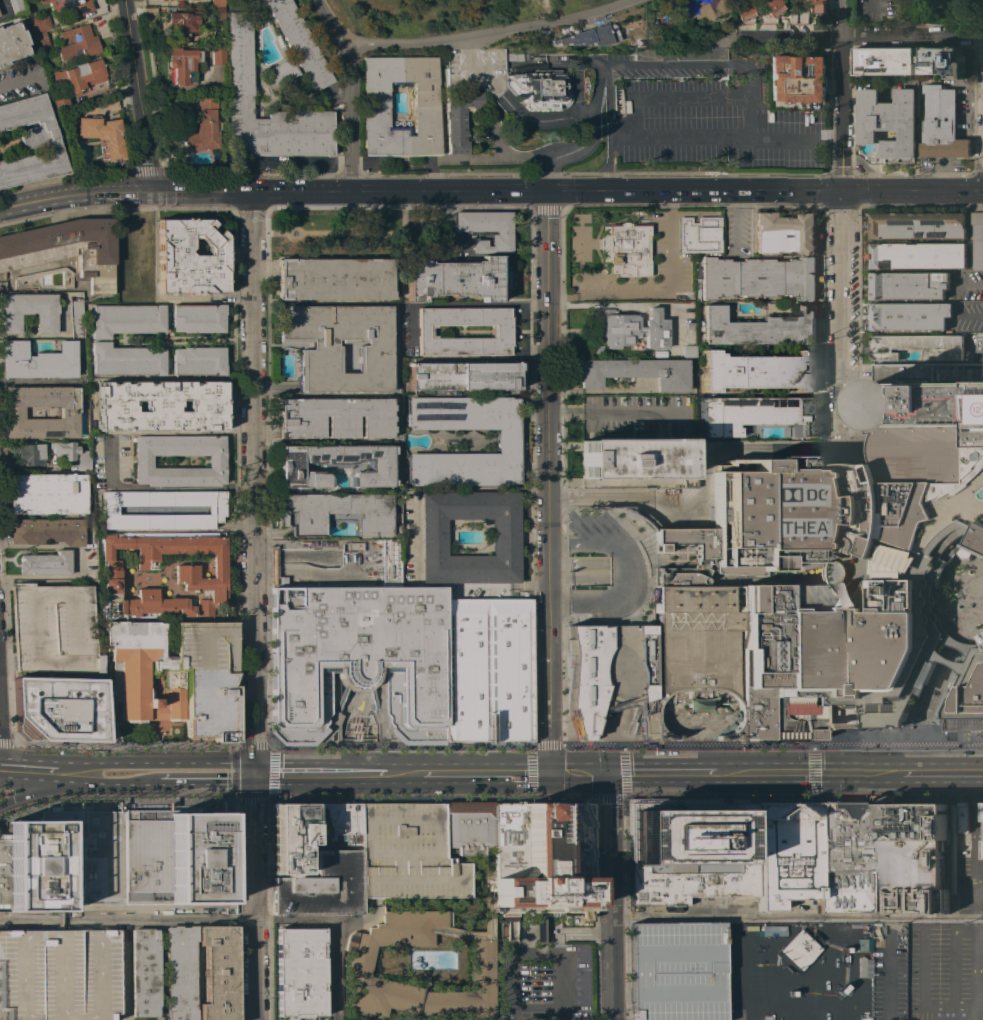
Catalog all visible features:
building: (182, 0)
building: (787, 0)
building: (218, 3)
road: (543, 3)
building: (69, 5)
building: (16, 6)
building: (819, 7)
building: (702, 8)
building: (768, 11)
building: (742, 12)
building: (218, 13)
building: (796, 16)
road: (556, 17)
road: (915, 17)
road: (537, 20)
building: (40, 23)
building: (183, 24)
road: (859, 35)
building: (590, 36)
road: (458, 37)
building: (41, 42)
building: (11, 43)
building: (300, 43)
building: (77, 44)
building: (218, 56)
building: (515, 57)
building: (240, 60)
building: (883, 61)
building: (943, 61)
building: (185, 65)
road: (605, 65)
road: (713, 65)
building: (283, 72)
building: (79, 76)
road: (577, 77)
building: (797, 78)
road: (18, 80)
building: (540, 90)
road: (842, 94)
road: (137, 96)
road: (670, 97)
building: (376, 102)
building: (61, 105)
road: (584, 115)
building: (459, 119)
road: (350, 120)
building: (887, 121)
building: (941, 124)
building: (203, 126)
parking lot: (714, 126)
road: (609, 127)
building: (102, 136)
road: (714, 136)
building: (31, 142)
road: (388, 165)
road: (430, 177)
traffic signals: (841, 189)
road: (912, 189)
road: (419, 190)
traffic signals: (147, 194)
road: (923, 204)
road: (843, 205)
road: (292, 218)
road: (736, 222)
road: (562, 223)
building: (917, 225)
building: (486, 229)
road: (279, 233)
road: (362, 233)
parking lot: (735, 233)
building: (786, 233)
road: (299, 234)
park: (360, 234)
building: (707, 236)
building: (977, 240)
road: (669, 242)
building: (626, 249)
building: (62, 254)
building: (917, 255)
building: (190, 258)
parking lot: (662, 268)
road: (599, 276)
building: (759, 278)
building: (333, 279)
building: (456, 279)
building: (908, 285)
road: (602, 293)
road: (229, 297)
road: (605, 297)
road: (189, 298)
road: (842, 300)
road: (460, 304)
parking lot: (855, 306)
building: (28, 312)
parking lot: (832, 315)
building: (908, 315)
building: (198, 318)
building: (76, 319)
building: (126, 320)
building: (690, 326)
building: (760, 328)
building: (631, 329)
road: (579, 331)
building: (501, 332)
road: (545, 340)
building: (918, 346)
building: (373, 348)
building: (597, 350)
building: (689, 351)
building: (38, 361)
building: (126, 361)
building: (198, 361)
building: (758, 371)
building: (636, 372)
building: (463, 376)
road: (35, 385)
road: (273, 388)
building: (924, 398)
building: (161, 406)
road: (613, 413)
parking lot: (472, 414)
building: (68, 415)
building: (758, 415)
parking lot: (635, 417)
building: (334, 418)
road: (842, 432)
building: (509, 441)
road: (857, 450)
building: (73, 452)
building: (29, 454)
building: (632, 459)
building: (143, 462)
building: (334, 465)
parking lot: (472, 469)
road: (160, 487)
road: (436, 489)
road: (704, 493)
building: (48, 494)
road: (547, 495)
building: (215, 510)
building: (337, 512)
building: (47, 531)
building: (505, 538)
building: (45, 564)
parking lot: (856, 568)
building: (848, 570)
road: (622, 573)
road: (47, 576)
building: (199, 578)
road: (252, 607)
building: (54, 629)
parking lot: (54, 629)
road: (549, 636)
building: (698, 650)
building: (360, 655)
road: (7, 664)
road: (947, 670)
building: (486, 671)
building: (608, 674)
building: (176, 676)
building: (968, 701)
building: (60, 709)
building: (567, 709)
road: (157, 738)
traffic signals: (549, 739)
road: (491, 746)
road: (156, 762)
road: (30, 770)
road: (531, 772)
road: (625, 772)
traffic signals: (627, 772)
road: (795, 772)
road: (813, 772)
road: (235, 773)
road: (275, 773)
road: (485, 773)
traffic signals: (525, 773)
road: (579, 773)
road: (319, 774)
road: (403, 774)
traffic signals: (253, 775)
road: (108, 784)
road: (207, 784)
road: (41, 792)
road: (489, 799)
traffic signals: (609, 803)
building: (982, 811)
building: (962, 816)
building: (334, 820)
road: (609, 825)
building: (468, 827)
building: (290, 838)
building: (690, 849)
building: (982, 849)
building: (788, 853)
building: (407, 854)
parking lot: (407, 854)
building: (910, 855)
building: (845, 857)
building: (178, 861)
building: (64, 862)
building: (306, 863)
parking lot: (970, 886)
road: (979, 887)
building: (322, 888)
road: (262, 895)
road: (976, 896)
building: (486, 909)
road: (796, 918)
road: (125, 919)
road: (325, 921)
road: (542, 930)
building: (772, 930)
road: (580, 931)
road: (611, 948)
building: (797, 950)
parking lot: (544, 963)
road: (511, 965)
building: (864, 968)
building: (677, 971)
parking lot: (677, 971)
parking lot: (798, 971)
parking lot: (892, 971)
parking lot: (946, 971)
road: (119, 972)
building: (180, 972)
building: (144, 973)
building: (218, 973)
building: (300, 973)
building: (58, 975)
parking lot: (58, 975)
road: (737, 980)
road: (839, 1002)
road: (120, 1017)

